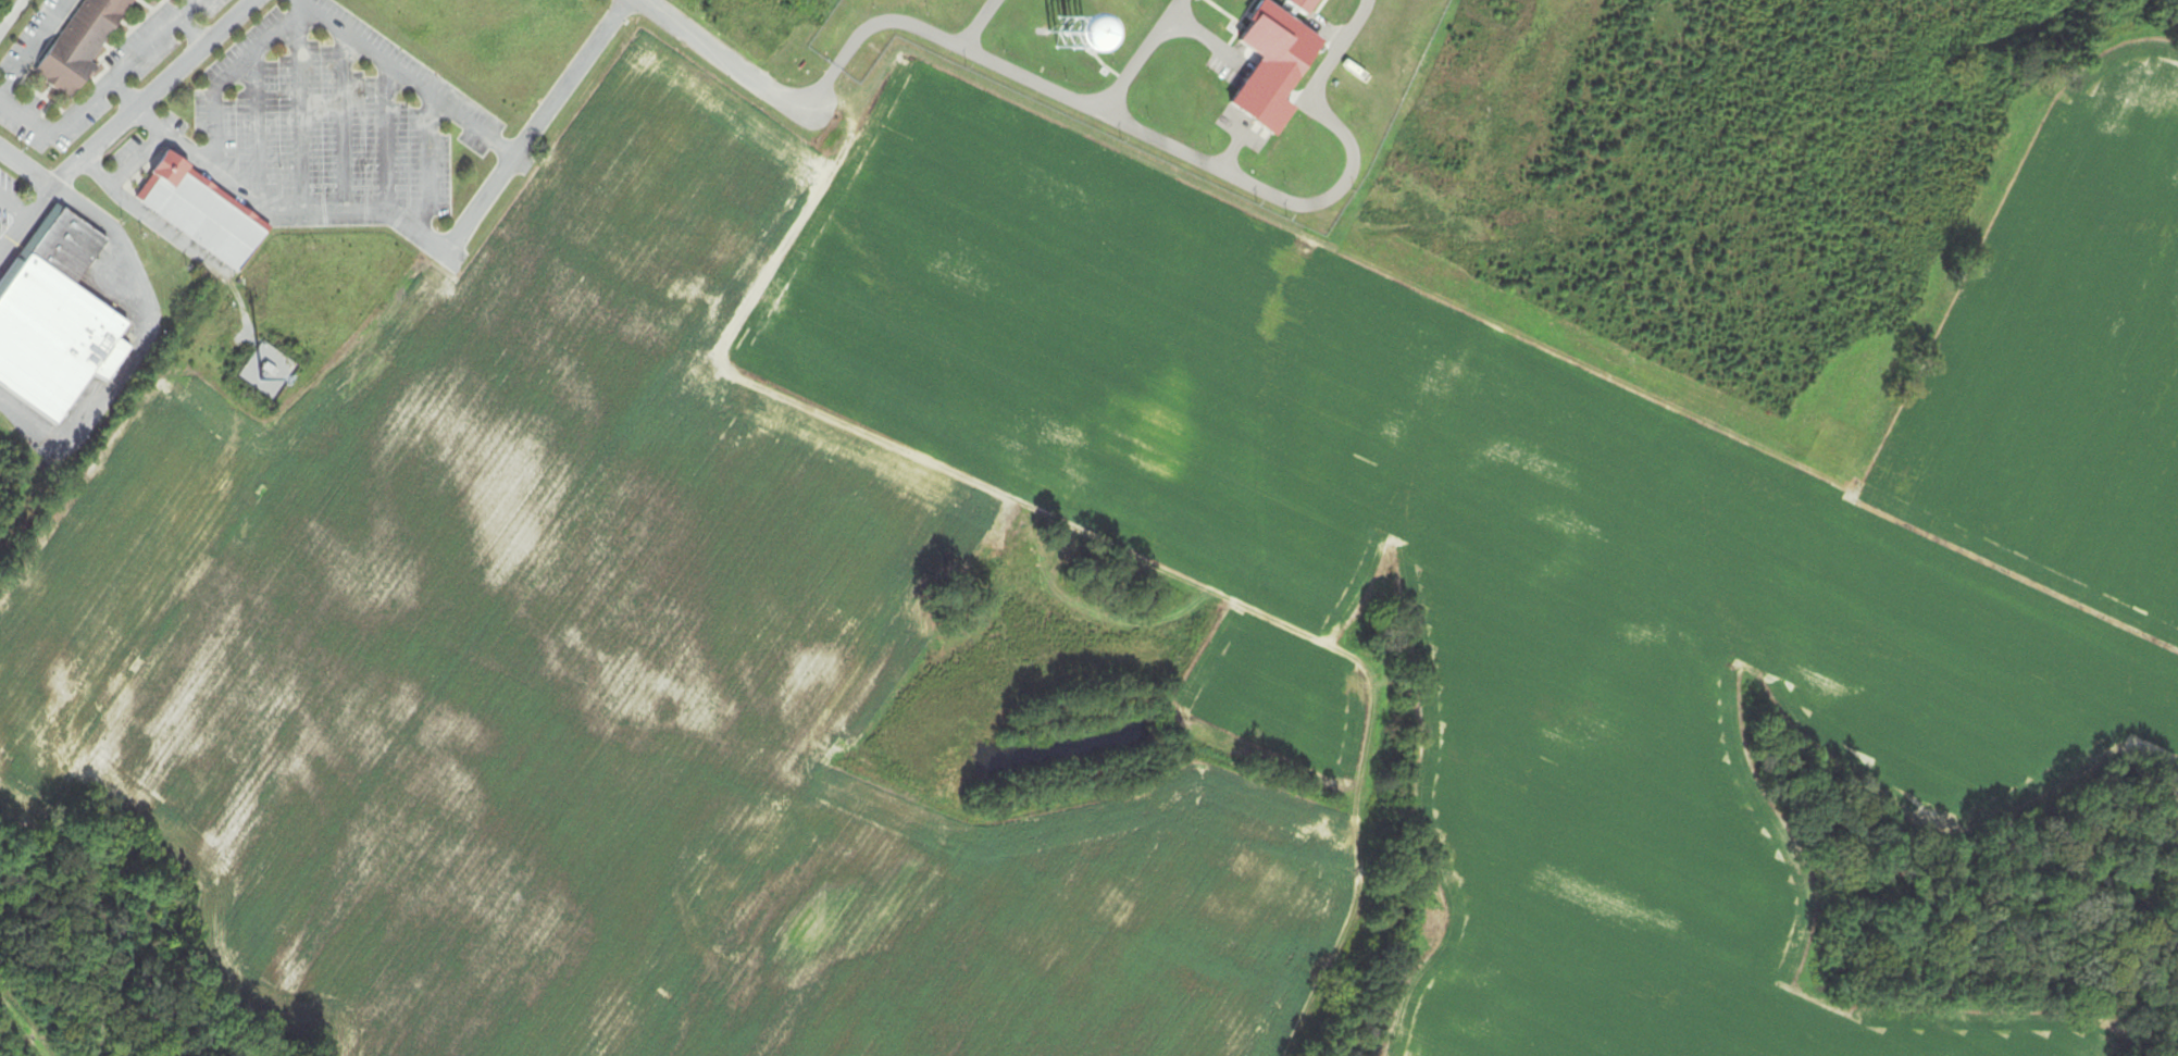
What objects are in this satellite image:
road: (11, 15)
road: (934, 38)
road: (34, 45)
building: (84, 45)
road: (718, 55)
road: (1136, 58)
road: (231, 75)
road: (406, 78)
road: (102, 84)
road: (153, 95)
road: (300, 119)
road: (343, 124)
road: (535, 127)
road: (254, 131)
road: (385, 141)
road: (141, 161)
road: (426, 164)
road: (25, 172)
road: (1320, 201)
road: (260, 207)
road: (14, 211)
building: (203, 213)
road: (148, 222)
road: (25, 225)
road: (2, 252)
building: (54, 319)
building: (265, 373)
park: (52, 1001)

